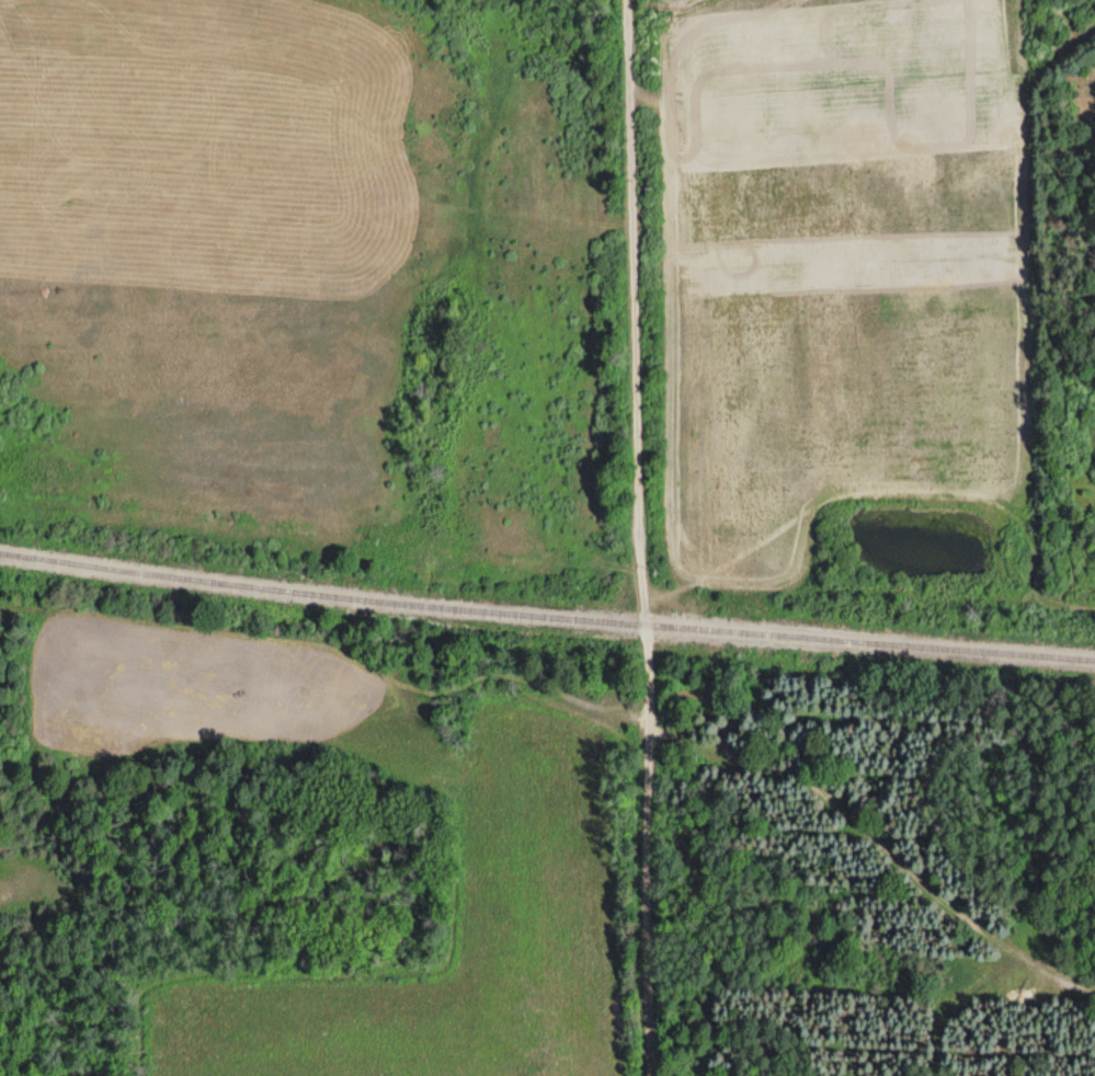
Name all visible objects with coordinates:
road: (639, 537)
railway: (546, 606)

